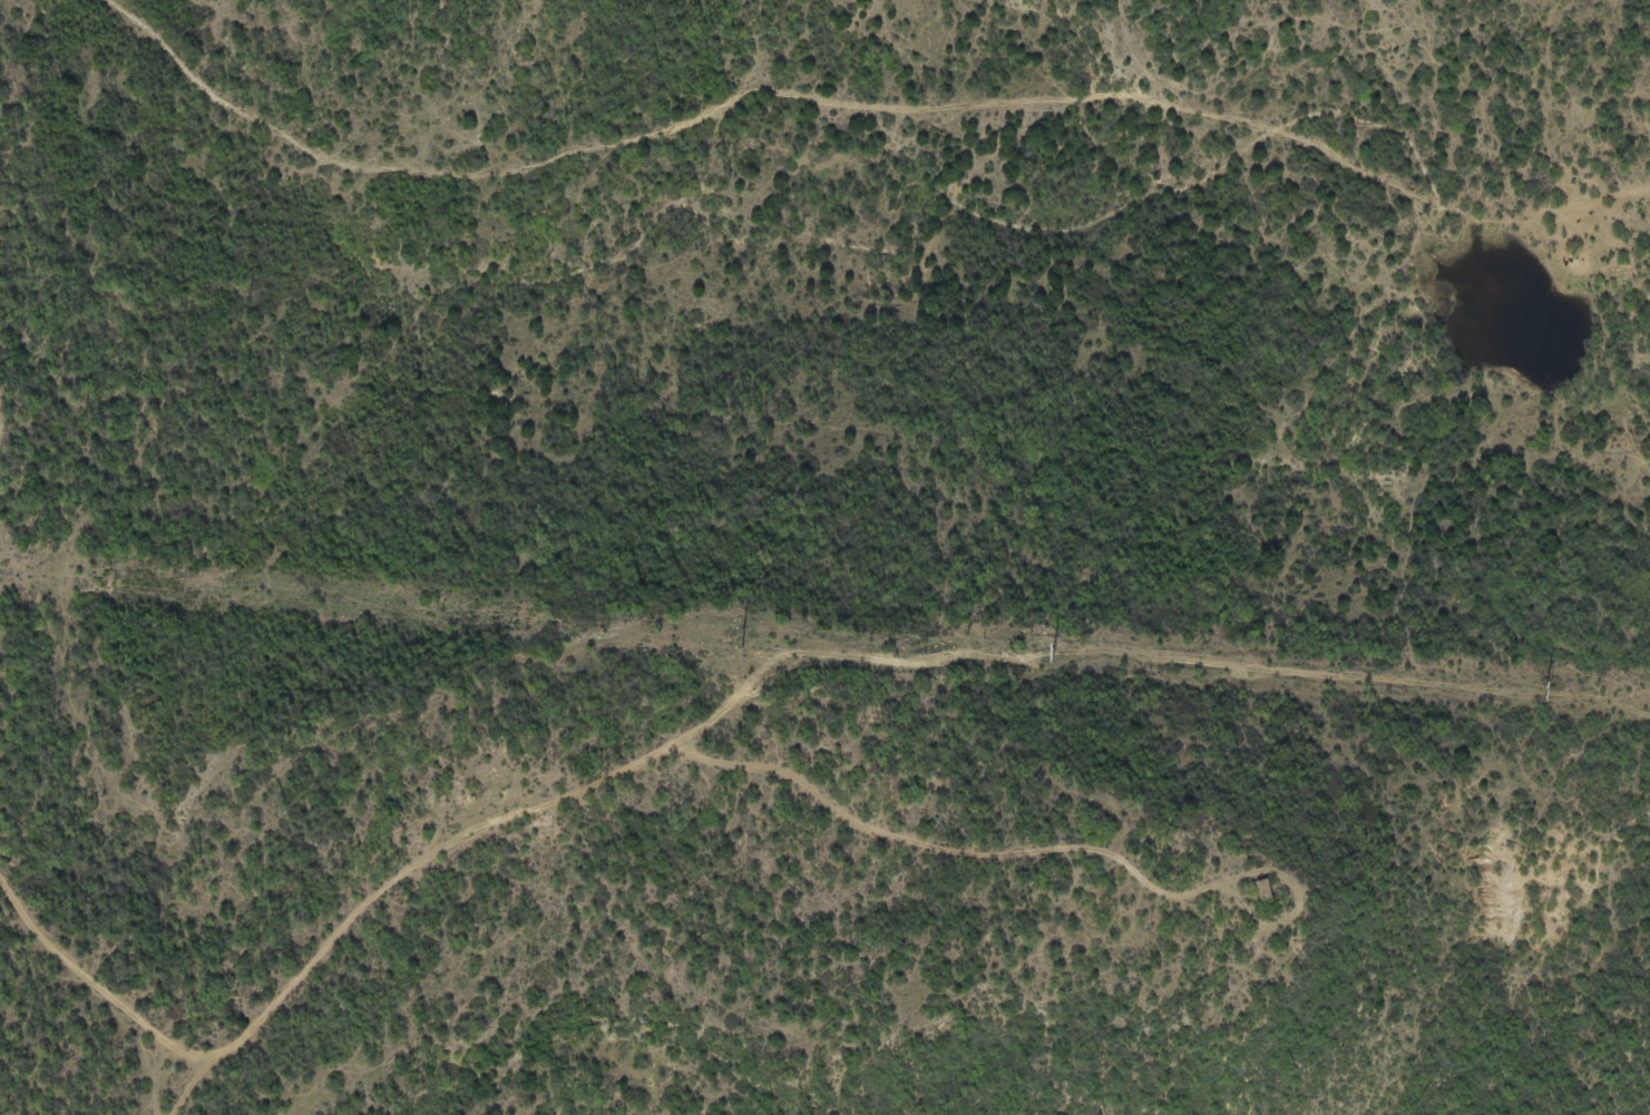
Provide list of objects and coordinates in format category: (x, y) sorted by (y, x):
power tower: (742, 637)
power tower: (1052, 654)
power tower: (1544, 693)

